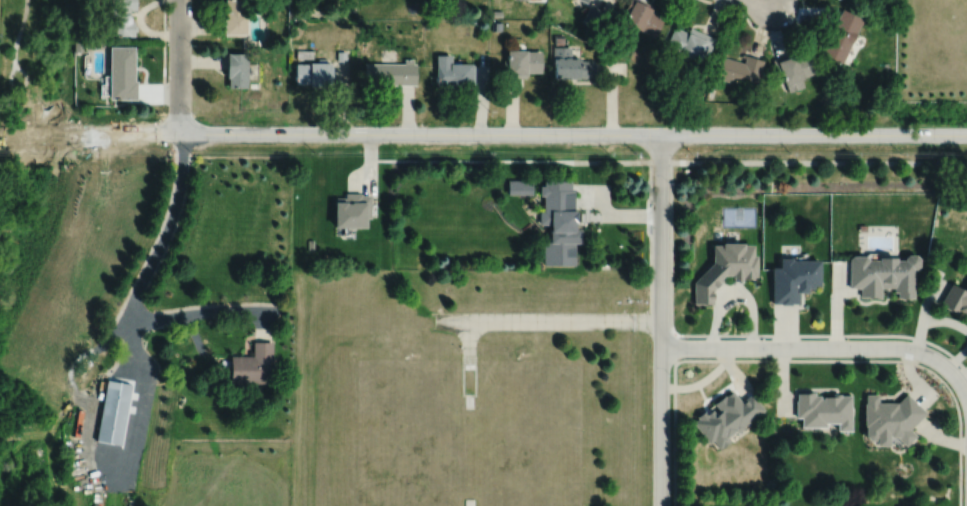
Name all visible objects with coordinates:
building: (584, 0)
road: (763, 2)
building: (496, 12)
building: (592, 15)
building: (642, 15)
building: (121, 17)
building: (235, 17)
building: (496, 25)
street lamp: (782, 28)
building: (588, 29)
road: (759, 30)
road: (19, 32)
building: (842, 33)
building: (558, 38)
building: (601, 39)
building: (690, 42)
street lamp: (192, 44)
building: (78, 45)
road: (164, 50)
building: (304, 53)
building: (341, 55)
building: (521, 61)
park: (36, 62)
building: (570, 63)
road: (179, 66)
building: (237, 68)
building: (794, 68)
building: (740, 69)
building: (452, 70)
building: (314, 71)
building: (122, 72)
building: (390, 72)
road: (20, 87)
street lamp: (192, 112)
road: (483, 133)
road: (621, 160)
road: (818, 161)
street lamp: (669, 182)
building: (518, 186)
building: (352, 210)
road: (616, 213)
park: (738, 215)
building: (558, 221)
road: (167, 232)
building: (310, 244)
building: (725, 268)
building: (882, 275)
building: (795, 278)
building: (955, 300)
road: (208, 312)
road: (661, 319)
road: (452, 320)
road: (565, 320)
road: (674, 332)
road: (132, 333)
road: (826, 334)
road: (115, 335)
road: (469, 336)
road: (823, 346)
street lamp: (857, 356)
road: (128, 358)
road: (876, 360)
building: (253, 366)
street lamp: (670, 373)
building: (824, 409)
building: (113, 411)
building: (726, 416)
building: (890, 418)
road: (134, 433)
street lamp: (962, 480)
building: (469, 502)

